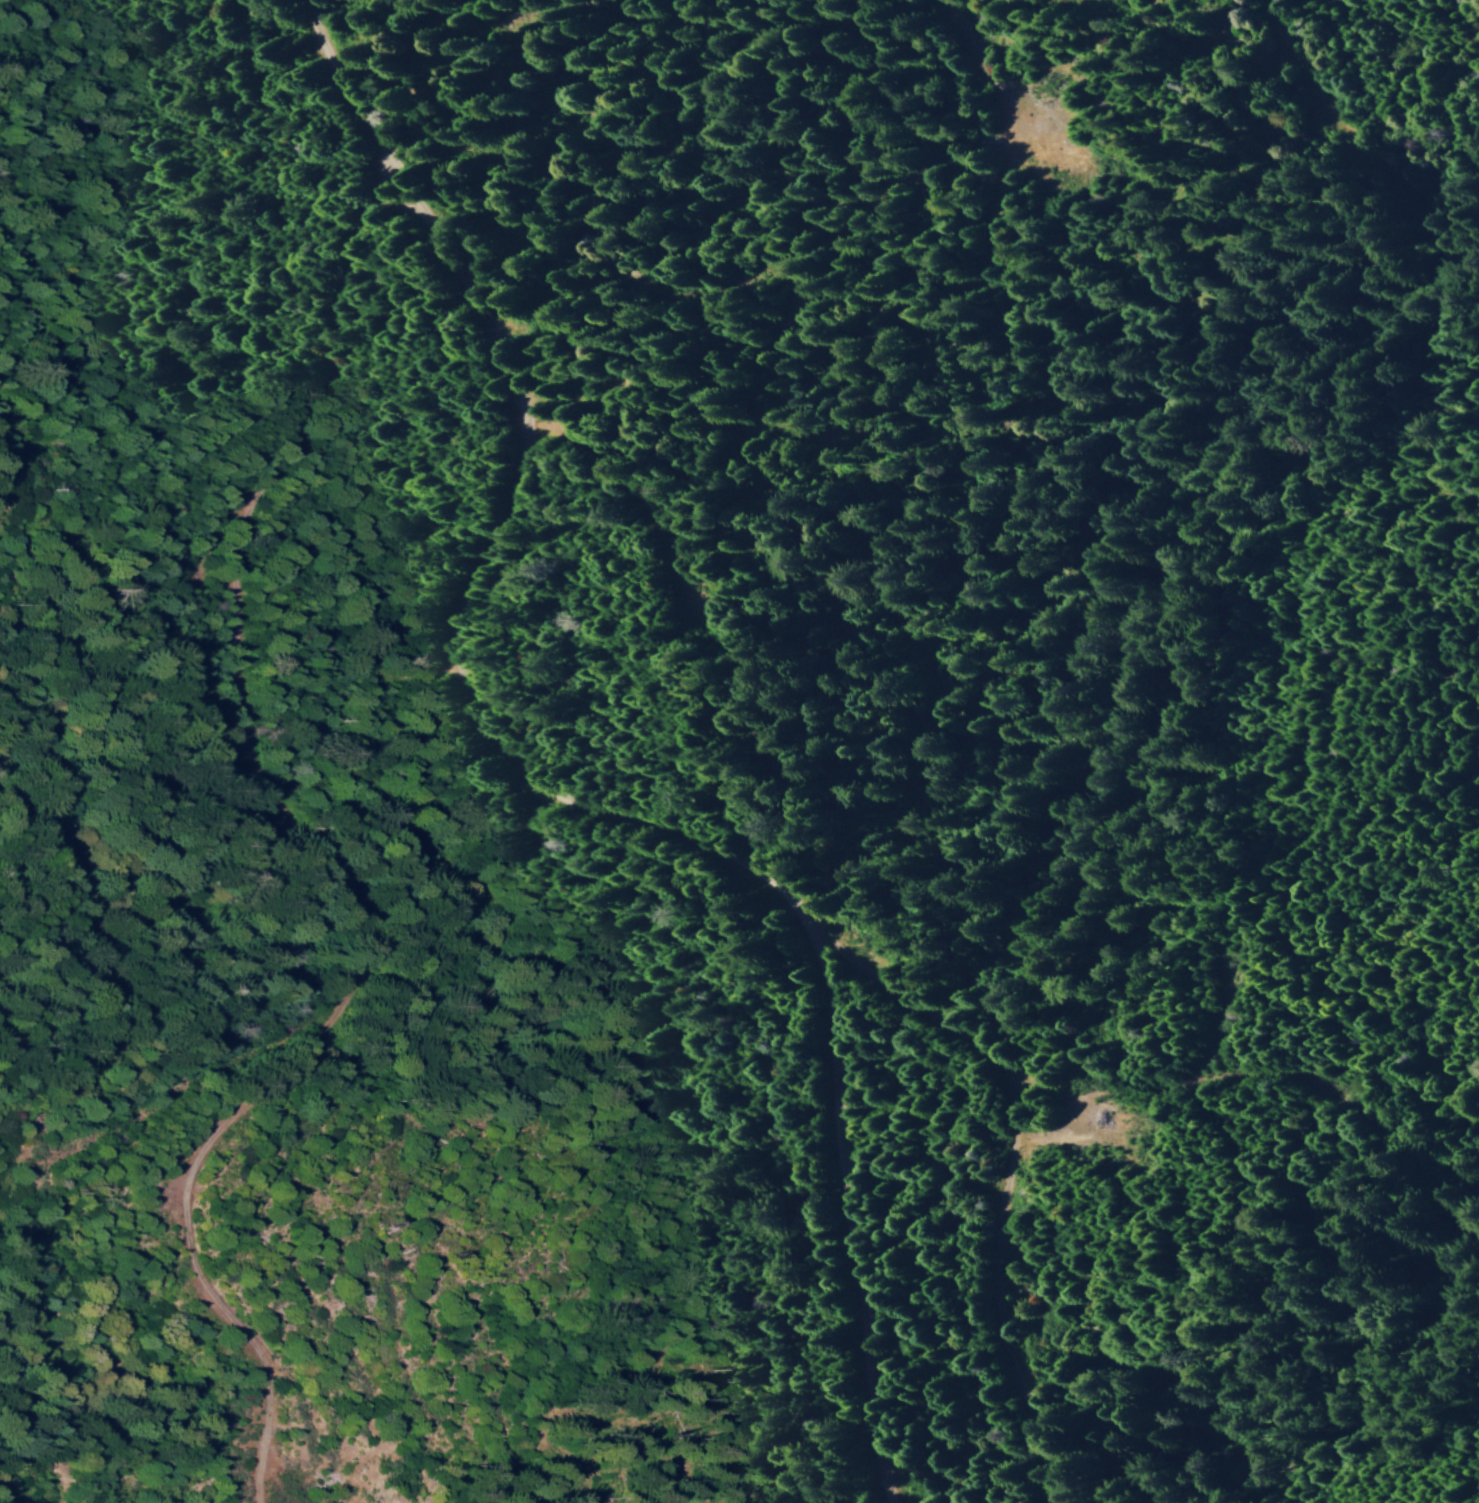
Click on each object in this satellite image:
road: (541, 789)
road: (334, 866)

